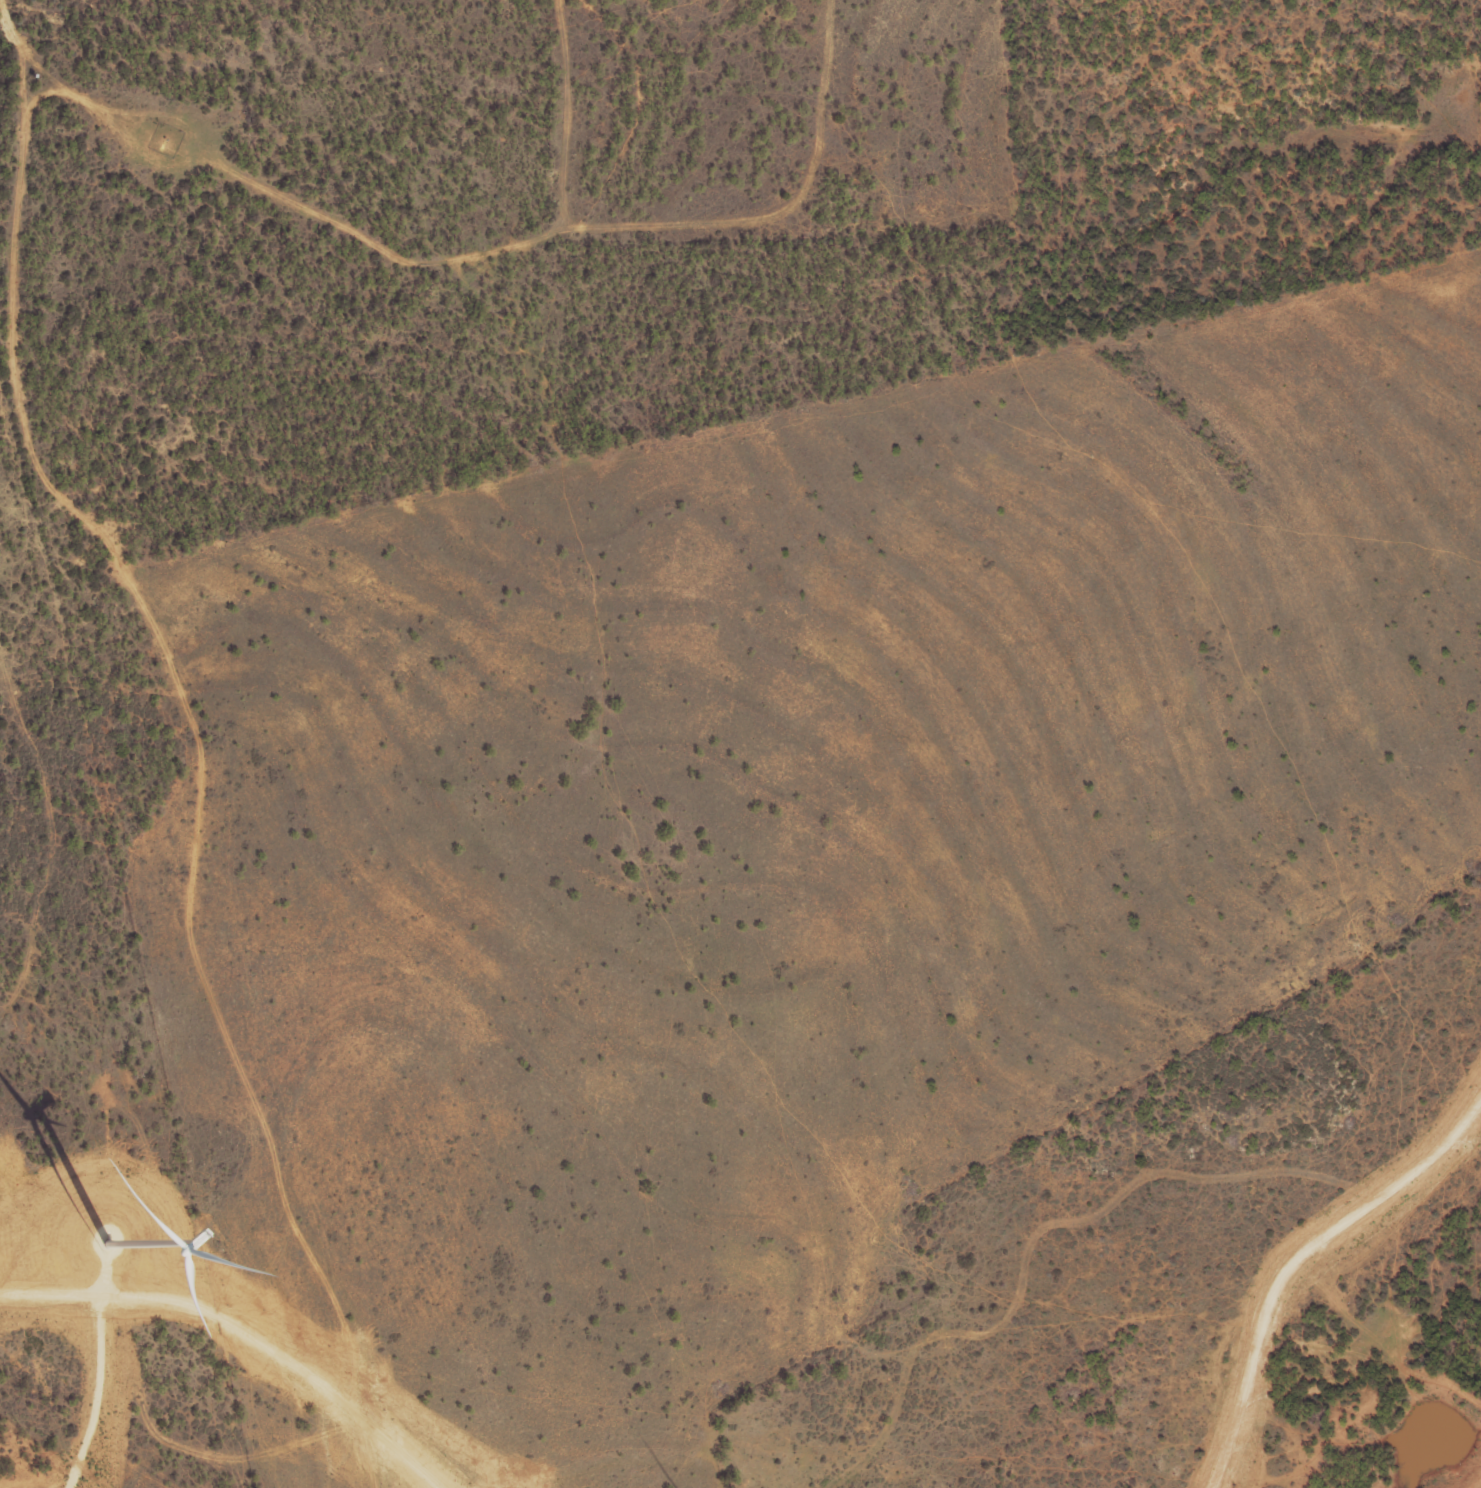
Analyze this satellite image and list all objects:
road: (1396, 1182)
wind turbine: (109, 1247)
road: (245, 1331)
road: (1250, 1367)
road: (100, 1394)

